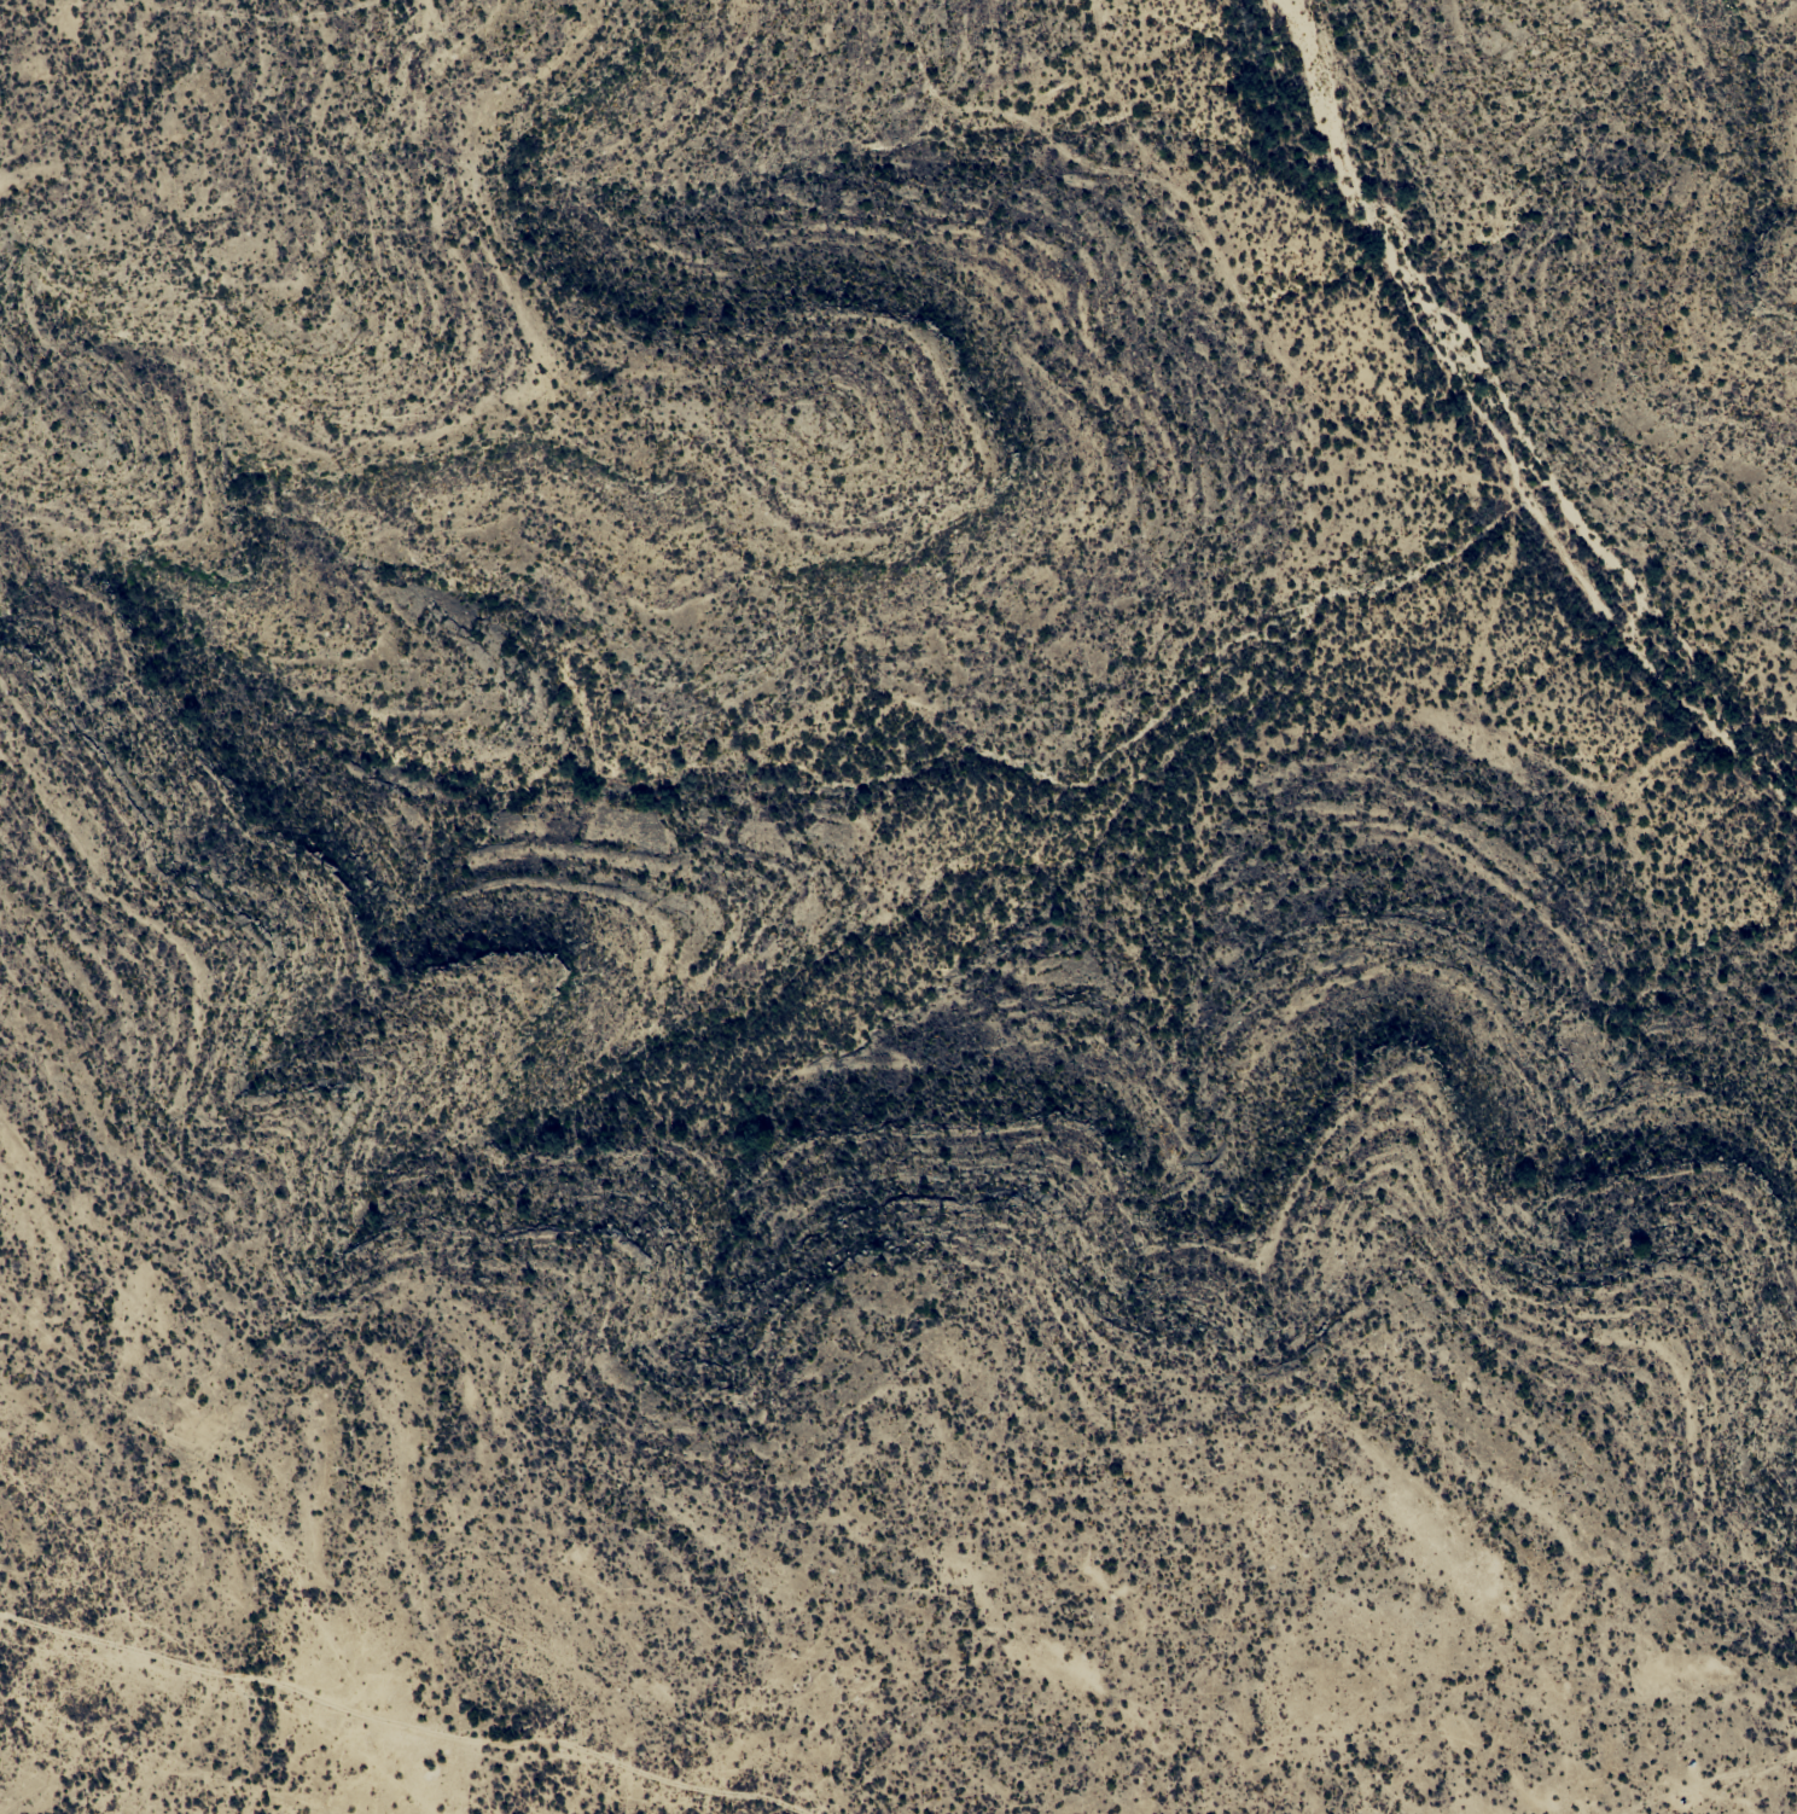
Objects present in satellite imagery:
road: (370, 1713)

